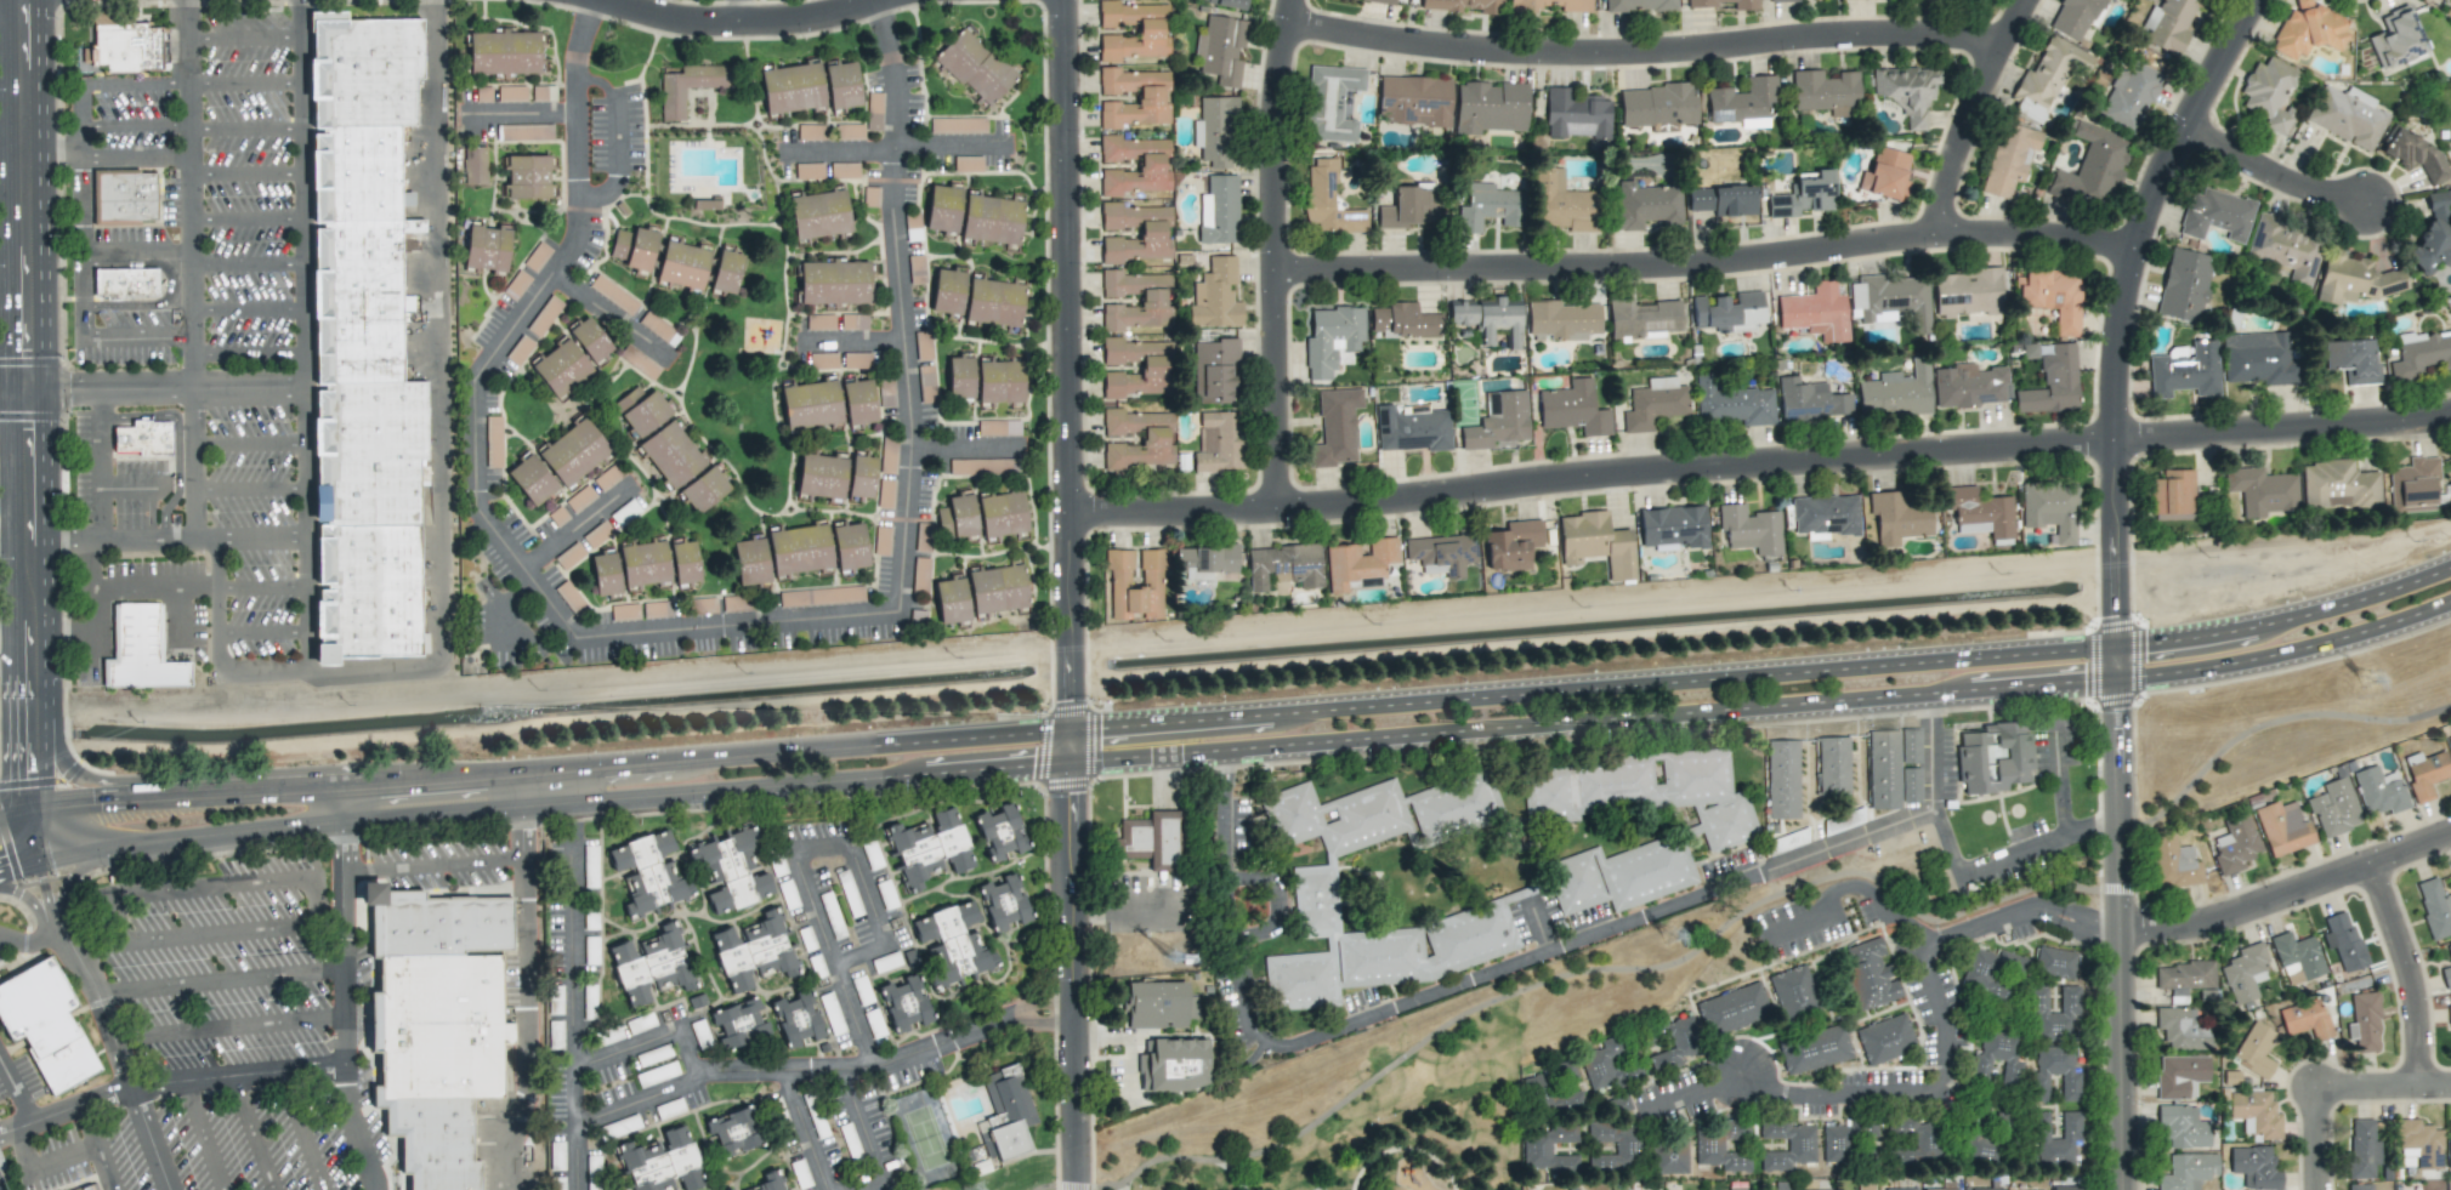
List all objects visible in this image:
building: (1771, 0)
building: (1379, 1)
building: (1226, 4)
building: (1725, 4)
building: (1548, 5)
building: (1639, 5)
building: (1463, 6)
road: (737, 16)
building: (2077, 17)
building: (2168, 24)
building: (1152, 30)
building: (2308, 30)
road: (741, 32)
road: (244, 36)
building: (2396, 39)
building: (127, 47)
building: (1221, 49)
building: (503, 53)
road: (1651, 62)
building: (975, 67)
building: (2047, 78)
road: (244, 84)
building: (841, 85)
building: (687, 87)
building: (792, 87)
building: (1907, 91)
building: (1825, 92)
building: (2269, 93)
building: (2129, 96)
building: (1150, 97)
building: (1414, 101)
building: (1742, 102)
building: (1331, 103)
building: (1491, 107)
building: (1657, 107)
building: (873, 112)
road: (517, 113)
building: (1576, 114)
road: (1985, 115)
building: (2348, 115)
building: (958, 125)
road: (191, 129)
building: (850, 131)
building: (526, 132)
building: (811, 132)
building: (1216, 132)
road: (617, 140)
road: (892, 152)
building: (2009, 159)
road: (108, 160)
building: (475, 165)
building: (1151, 165)
building: (2092, 169)
building: (844, 170)
building: (809, 171)
road: (2280, 172)
road: (244, 173)
building: (1885, 175)
building: (527, 177)
building: (359, 193)
building: (1804, 195)
building: (126, 197)
parking lot: (206, 199)
building: (1328, 200)
building: (1723, 200)
building: (1562, 204)
building: (1646, 205)
building: (1488, 207)
building: (942, 209)
building: (1409, 209)
building: (1219, 210)
building: (818, 213)
building: (2217, 215)
road: (245, 218)
building: (992, 218)
road: (83, 233)
building: (1152, 233)
building: (2434, 234)
building: (486, 247)
building: (634, 247)
building: (2285, 249)
road: (135, 250)
road: (1276, 256)
building: (683, 263)
road: (245, 264)
road: (188, 269)
building: (726, 271)
road: (1714, 272)
building: (2354, 279)
building: (125, 281)
building: (834, 281)
building: (2184, 285)
building: (947, 291)
building: (1967, 292)
building: (613, 294)
building: (1215, 296)
building: (2053, 296)
building: (1153, 300)
building: (1891, 300)
building: (994, 301)
road: (245, 308)
road: (901, 311)
building: (1727, 312)
building: (1816, 312)
building: (1642, 318)
road: (611, 319)
building: (1488, 319)
road: (2134, 319)
building: (1402, 320)
building: (1562, 320)
building: (821, 321)
building: (855, 321)
building: (659, 329)
road: (302, 335)
road: (135, 338)
building: (589, 338)
building: (1331, 338)
road: (853, 342)
road: (245, 353)
building: (2421, 354)
building: (2258, 358)
building: (2351, 360)
building: (639, 361)
building: (560, 368)
building: (1153, 368)
building: (2185, 370)
building: (1214, 371)
building: (960, 376)
building: (1000, 381)
building: (2052, 383)
building: (1970, 386)
road: (151, 389)
building: (886, 392)
building: (1896, 392)
building: (1810, 400)
road: (439, 402)
building: (858, 402)
building: (1653, 403)
building: (1734, 403)
building: (810, 404)
road: (34, 408)
building: (1572, 409)
building: (641, 410)
building: (1498, 421)
building: (998, 427)
building: (1337, 427)
building: (1411, 428)
building: (143, 438)
building: (1156, 439)
building: (1218, 442)
road: (246, 445)
road: (960, 449)
building: (573, 451)
building: (671, 454)
building: (887, 456)
road: (101, 465)
road: (1761, 469)
building: (821, 476)
building: (862, 476)
building: (607, 477)
building: (531, 479)
road: (475, 483)
building: (2338, 485)
building: (2413, 485)
road: (246, 488)
road: (132, 490)
building: (704, 490)
building: (2262, 490)
building: (2172, 492)
building: (2052, 509)
building: (1980, 512)
building: (1002, 514)
building: (1825, 514)
building: (957, 517)
building: (1897, 518)
road: (17, 526)
building: (1673, 526)
building: (1751, 529)
road: (573, 533)
building: (597, 534)
road: (112, 540)
road: (203, 540)
building: (1596, 543)
building: (1513, 545)
building: (849, 546)
building: (799, 548)
building: (1443, 553)
building: (683, 562)
building: (750, 562)
building: (1204, 562)
building: (643, 563)
building: (1358, 563)
building: (1284, 566)
building: (605, 573)
building: (1151, 579)
building: (998, 588)
road: (261, 590)
road: (152, 591)
road: (1073, 594)
building: (821, 596)
building: (951, 600)
building: (736, 603)
road: (492, 608)
road: (87, 610)
building: (625, 611)
road: (2288, 620)
road: (182, 622)
road: (262, 632)
road: (217, 644)
building: (140, 650)
road: (18, 653)
road: (2291, 653)
power tower: (2367, 682)
road: (1598, 690)
road: (1653, 714)
building: (2449, 741)
building: (1910, 746)
building: (1993, 758)
building: (1833, 765)
building: (1883, 769)
road: (551, 771)
building: (2426, 773)
road: (879, 774)
building: (1782, 780)
road: (575, 785)
building: (1911, 785)
road: (2059, 785)
road: (523, 788)
building: (1642, 791)
building: (2379, 791)
road: (550, 802)
building: (2334, 807)
road: (435, 812)
road: (15, 821)
building: (2282, 827)
road: (523, 830)
building: (1000, 831)
road: (33, 838)
road: (191, 841)
building: (2235, 844)
building: (930, 848)
road: (2008, 859)
building: (2173, 864)
road: (433, 865)
road: (18, 867)
building: (730, 870)
building: (647, 872)
building: (1621, 875)
road: (68, 881)
building: (1312, 886)
road: (234, 887)
road: (2290, 889)
road: (46, 898)
building: (1004, 903)
road: (34, 905)
building: (2434, 907)
road: (1122, 915)
road: (119, 922)
road: (879, 926)
road: (1539, 926)
road: (2123, 927)
road: (1923, 932)
road: (208, 936)
road: (1729, 936)
power tower: (1672, 939)
road: (30, 941)
building: (590, 941)
building: (2343, 941)
building: (952, 944)
building: (2449, 951)
building: (753, 952)
building: (2297, 956)
building: (2054, 962)
road: (834, 963)
building: (651, 964)
road: (1509, 966)
road: (2412, 969)
building: (1992, 973)
building: (2243, 973)
building: (1870, 974)
building: (2446, 977)
road: (219, 979)
building: (2184, 979)
building: (1793, 991)
road: (344, 992)
road: (577, 995)
building: (589, 1002)
building: (904, 1003)
building: (1158, 1004)
building: (1734, 1008)
road: (1022, 1012)
building: (832, 1014)
building: (2054, 1014)
building: (2449, 1015)
building: (796, 1019)
building: (2305, 1019)
road: (520, 1023)
building: (2365, 1023)
building: (738, 1024)
building: (45, 1025)
building: (436, 1025)
road: (228, 1027)
building: (2181, 1029)
building: (1885, 1038)
road: (649, 1040)
building: (1675, 1046)
building: (1815, 1049)
building: (2254, 1049)
building: (1997, 1058)
road: (118, 1059)
building: (1609, 1064)
building: (1174, 1065)
road: (798, 1070)
building: (2055, 1072)
building: (2180, 1076)
road: (168, 1083)
road: (2384, 1086)
road: (17, 1091)
road: (1867, 1091)
building: (1550, 1098)
building: (1008, 1111)
building: (2254, 1115)
building: (2183, 1127)
road: (301, 1131)
road: (804, 1131)
building: (733, 1132)
road: (254, 1133)
road: (203, 1135)
road: (867, 1135)
road: (2316, 1138)
building: (1978, 1140)
building: (2055, 1140)
building: (1924, 1141)
building: (2450, 1141)
building: (1721, 1145)
building: (1787, 1145)
building: (2418, 1145)
road: (98, 1146)
building: (1615, 1148)
building: (1550, 1149)
building: (2362, 1149)
park: (1407, 1150)
building: (1668, 1155)
building: (662, 1163)
road: (42, 1167)
building: (2254, 1167)
building: (2188, 1171)
building: (594, 1172)
building: (768, 1182)
building: (1781, 1185)
building: (1866, 1186)
building: (2360, 1186)
building: (89, 1188)
building: (1572, 1188)
building: (2069, 1188)
building: (731, 1189)
building: (1736, 1189)
building: (1902, 1189)
building: (1941, 1189)
building: (1987, 1189)

